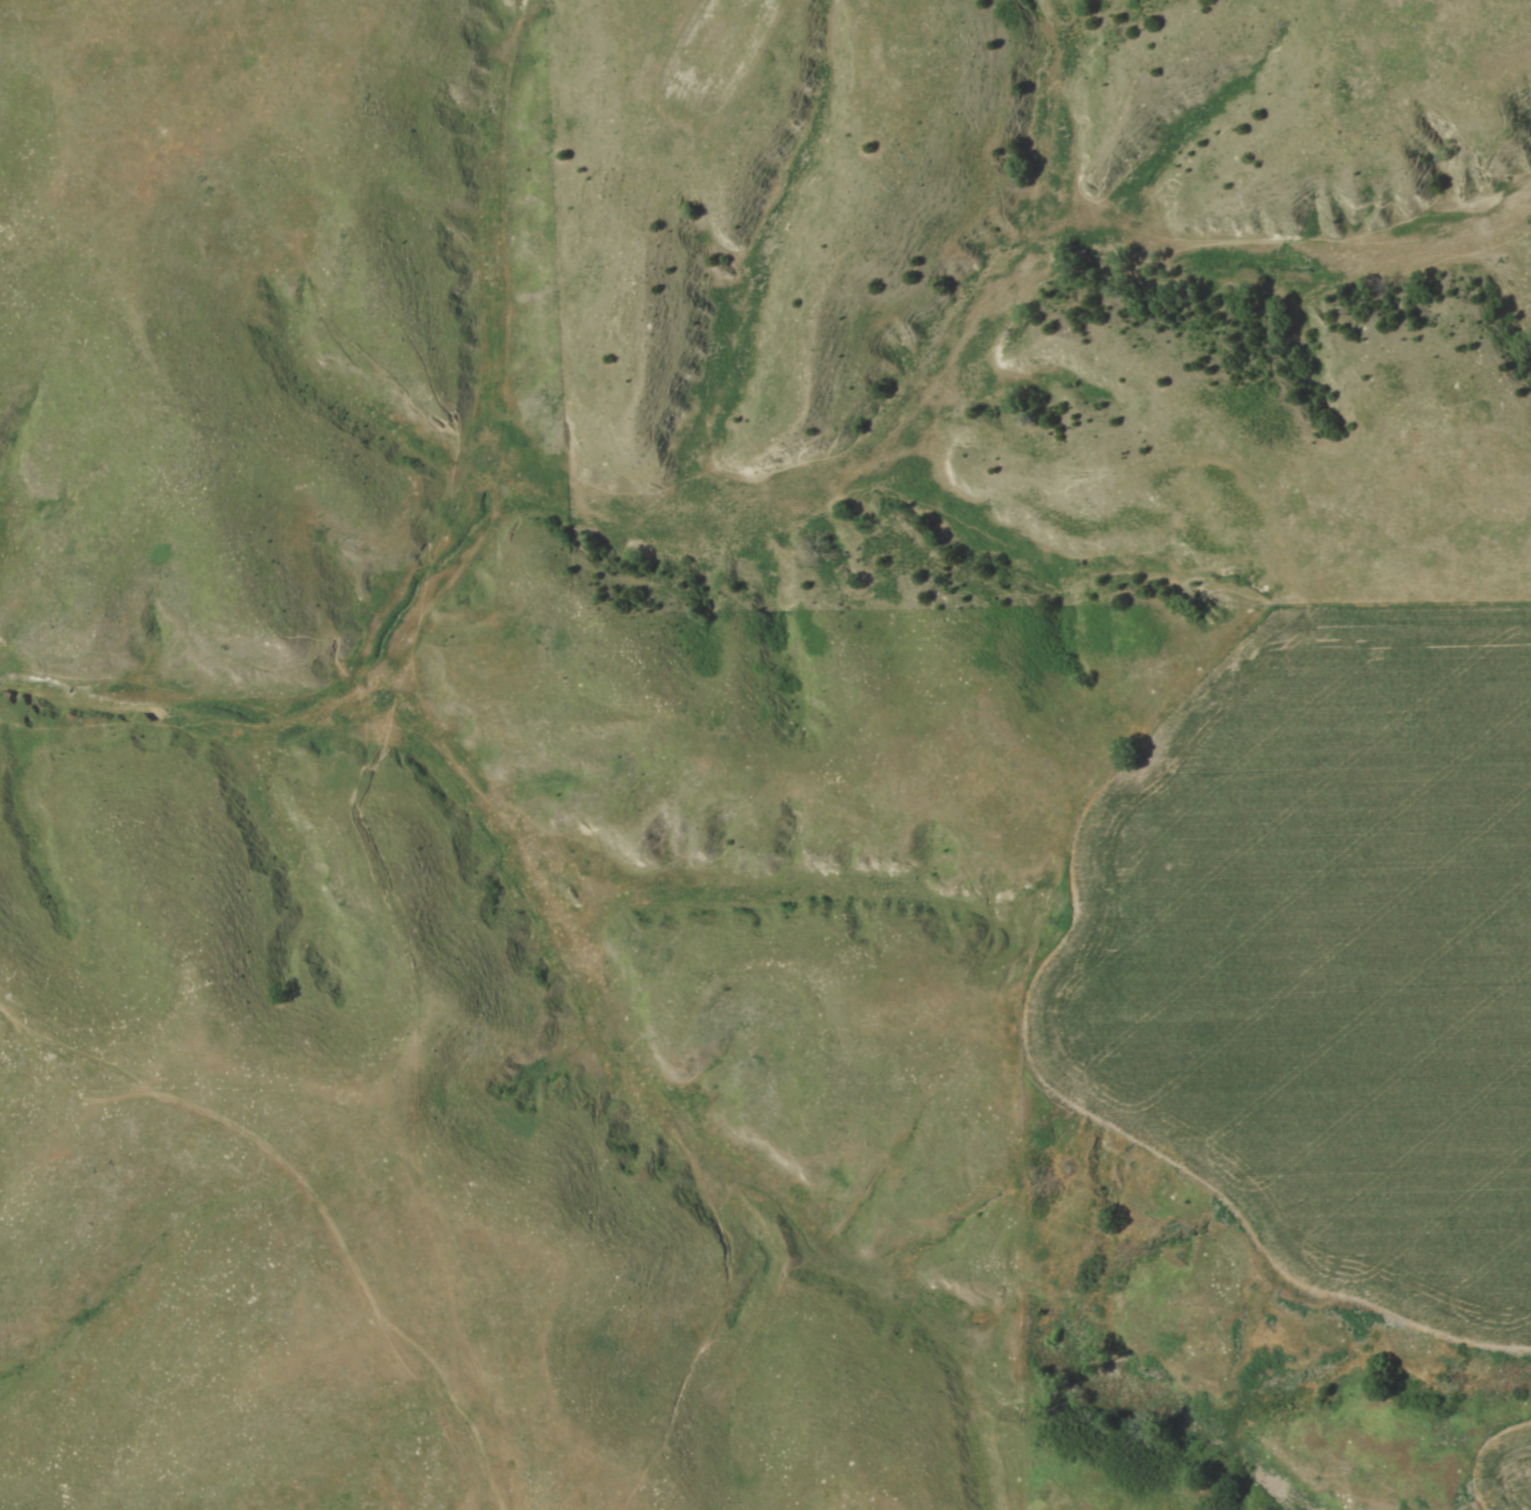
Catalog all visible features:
crop: (1331, 952)
crop: (1515, 1474)

